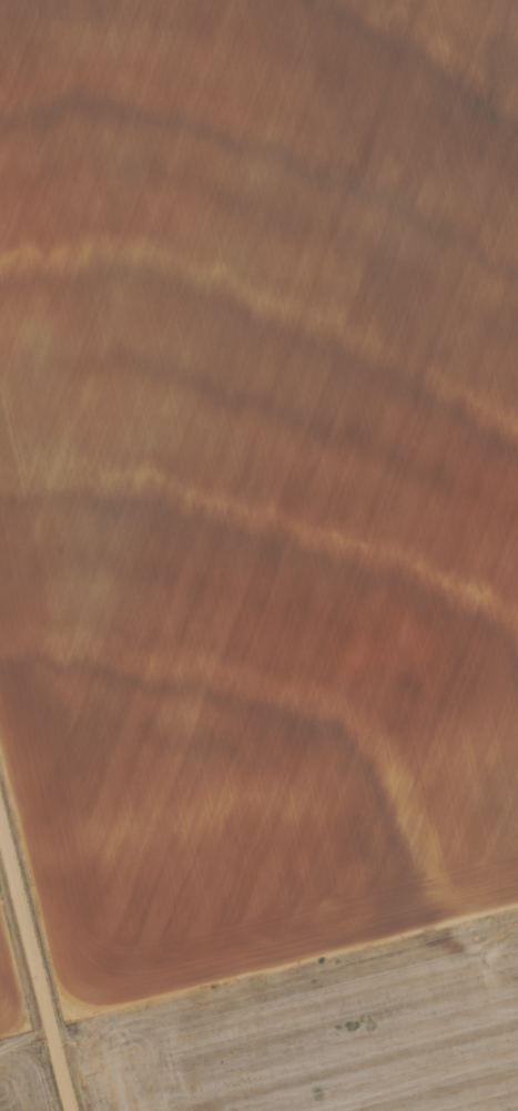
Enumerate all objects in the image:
road: (43, 976)

